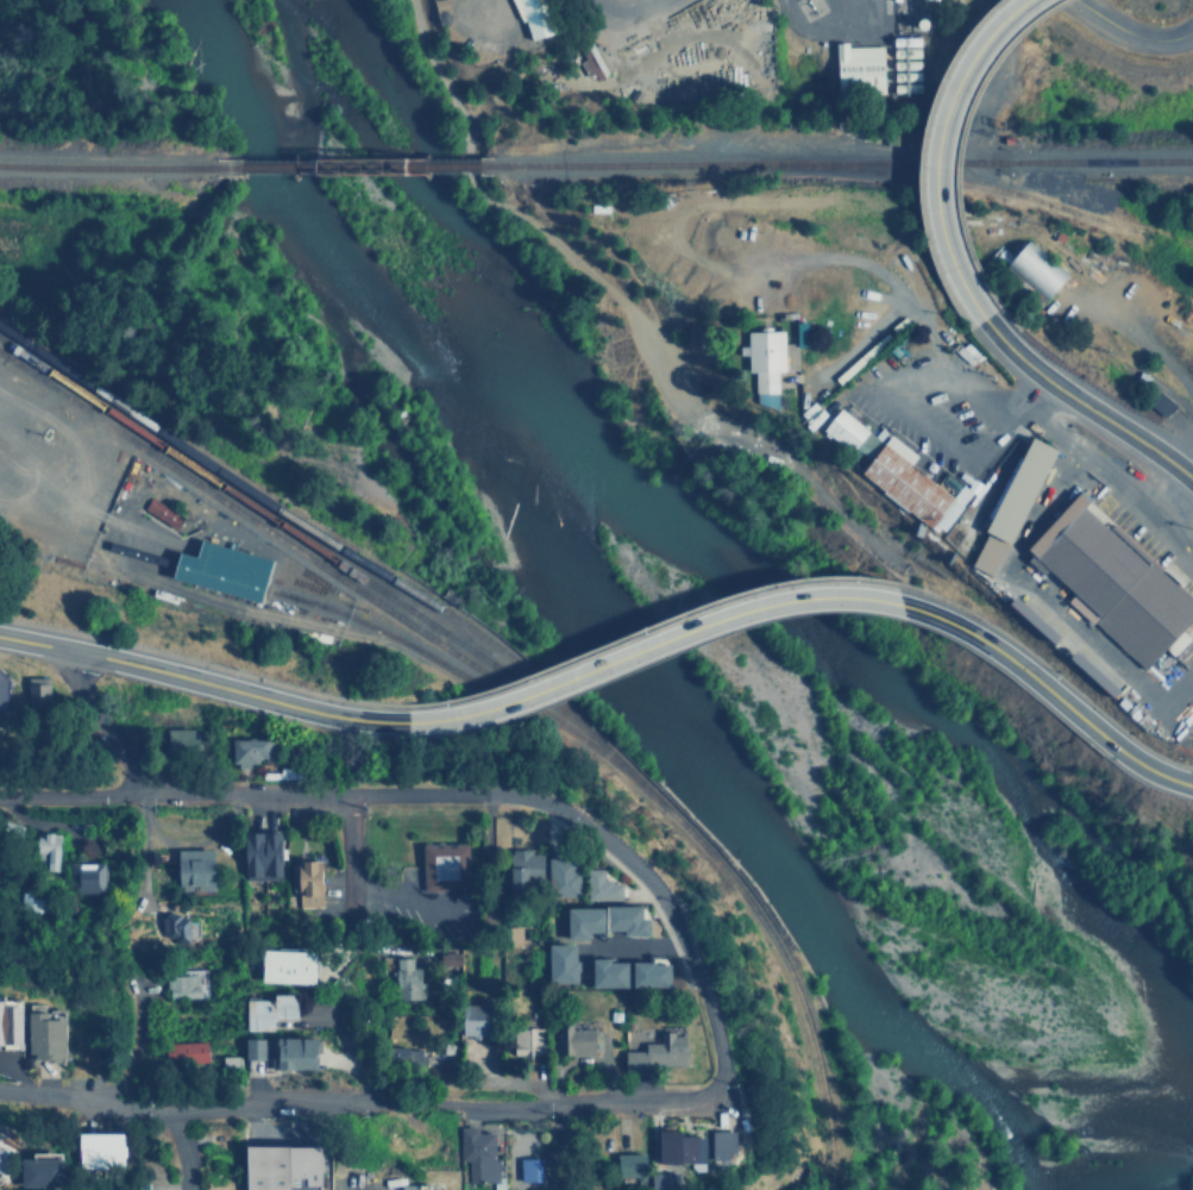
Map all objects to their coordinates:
building: (938, 0)
building: (538, 15)
road: (1128, 33)
building: (585, 62)
building: (854, 71)
road: (937, 149)
railway: (844, 163)
railway: (358, 165)
railway: (109, 167)
railway: (988, 190)
building: (1030, 273)
road: (893, 284)
road: (617, 305)
building: (799, 332)
building: (892, 347)
road: (1141, 349)
building: (967, 351)
building: (765, 353)
road: (1084, 402)
building: (1162, 402)
road: (999, 414)
road: (923, 425)
building: (844, 428)
building: (906, 483)
building: (1013, 503)
building: (159, 513)
road: (112, 532)
railway: (338, 547)
railway: (302, 555)
building: (216, 569)
building: (1118, 584)
road: (651, 646)
railway: (412, 650)
river: (627, 674)
road: (202, 682)
railway: (516, 684)
building: (38, 690)
road: (1049, 690)
building: (181, 741)
building: (249, 750)
road: (128, 782)
road: (67, 791)
road: (329, 796)
building: (49, 848)
building: (262, 854)
road: (346, 860)
building: (446, 864)
building: (523, 866)
building: (193, 868)
building: (89, 876)
building: (560, 877)
building: (307, 883)
building: (599, 885)
road: (408, 896)
building: (31, 901)
road: (670, 913)
building: (601, 920)
building: (175, 927)
building: (509, 935)
building: (450, 959)
building: (559, 963)
building: (287, 965)
building: (624, 973)
building: (408, 979)
building: (186, 983)
building: (266, 1010)
building: (470, 1020)
building: (13, 1021)
building: (50, 1035)
building: (574, 1041)
building: (526, 1042)
road: (131, 1046)
building: (252, 1047)
building: (184, 1052)
building: (290, 1053)
building: (654, 1053)
building: (403, 1054)
road: (349, 1058)
building: (230, 1063)
road: (358, 1101)
building: (718, 1144)
building: (679, 1147)
road: (155, 1148)
road: (557, 1148)
building: (102, 1150)
building: (476, 1153)
building: (6, 1157)
building: (629, 1164)
building: (276, 1167)
building: (528, 1169)
building: (46, 1171)
building: (660, 1180)
building: (414, 1186)

